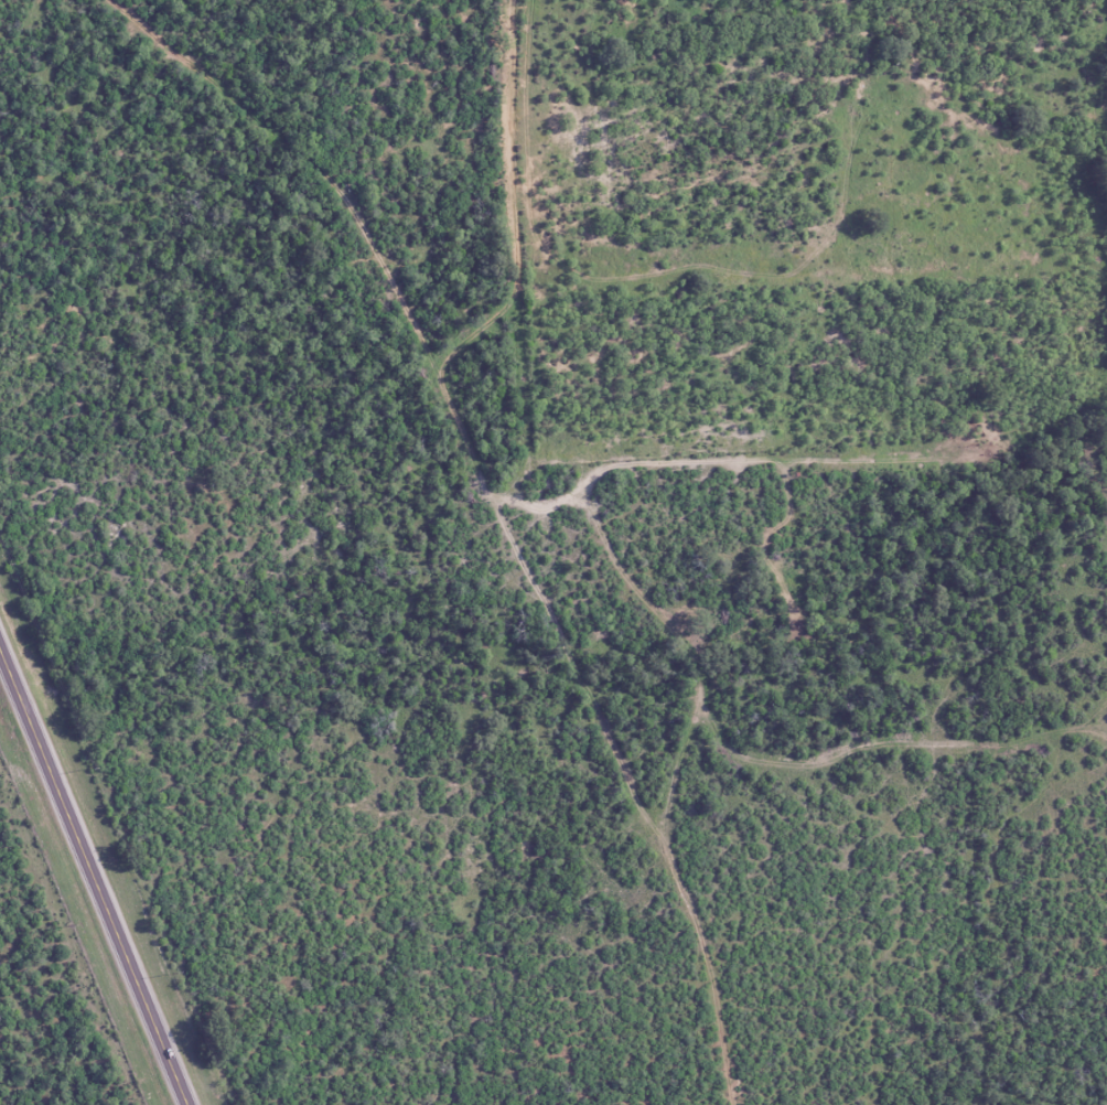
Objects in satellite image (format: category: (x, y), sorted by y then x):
road: (94, 877)
power tower: (69, 925)

